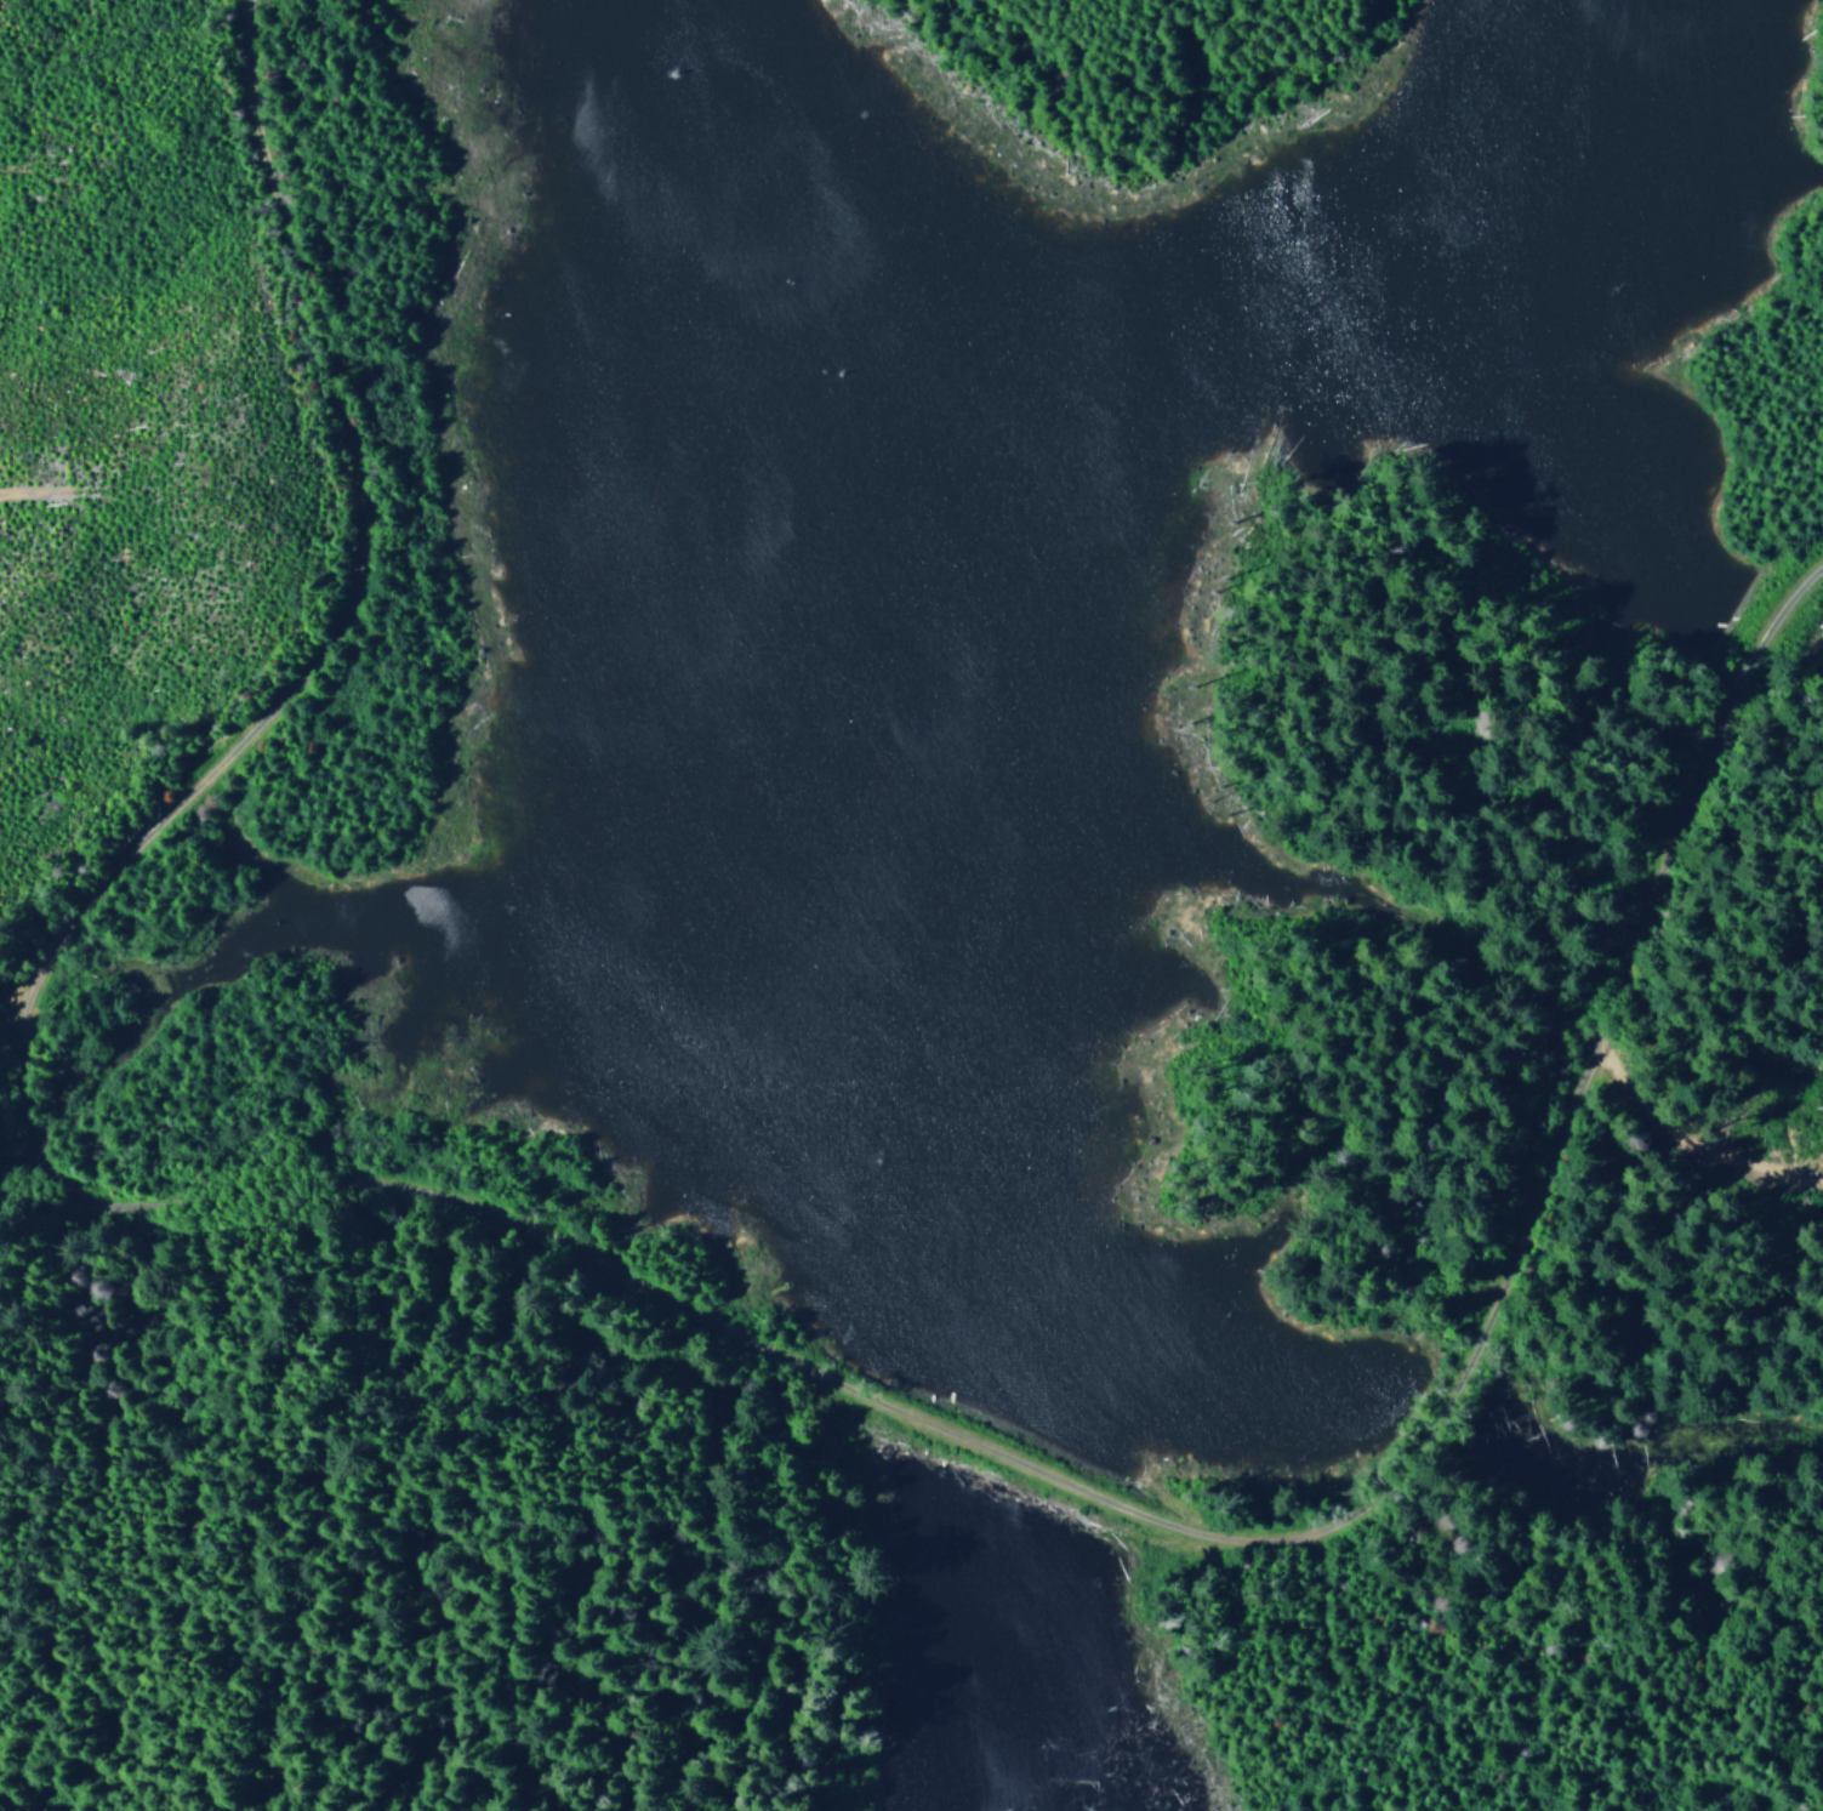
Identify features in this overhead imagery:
road: (32, 496)
road: (605, 1259)

